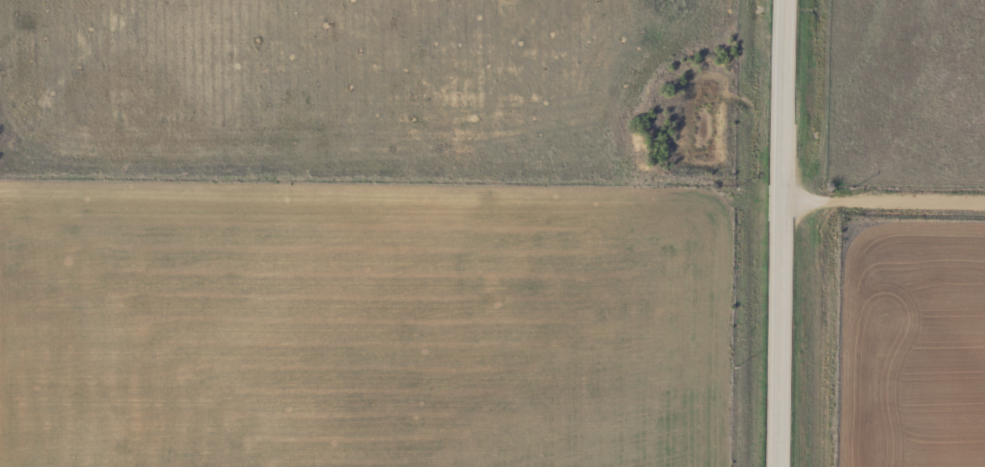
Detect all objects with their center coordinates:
road: (885, 207)
road: (784, 233)

